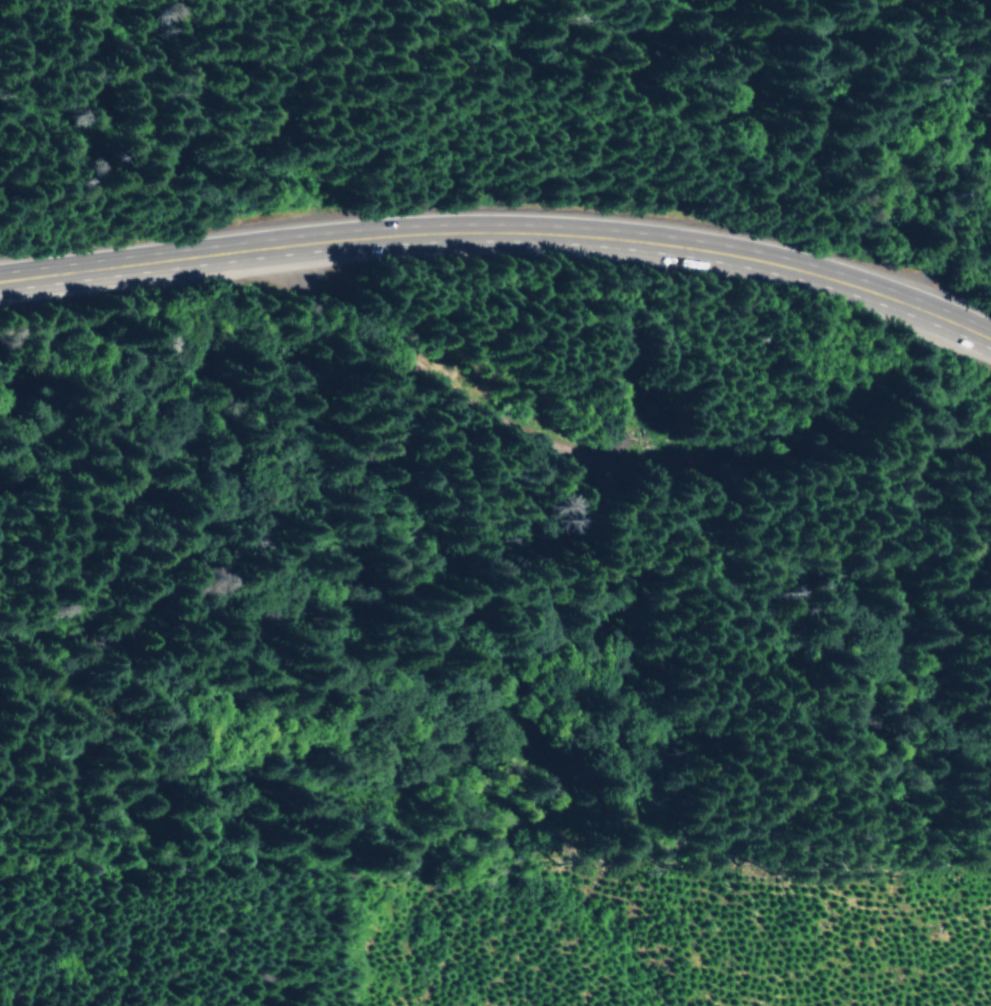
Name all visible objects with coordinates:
road: (501, 229)
road: (420, 380)

